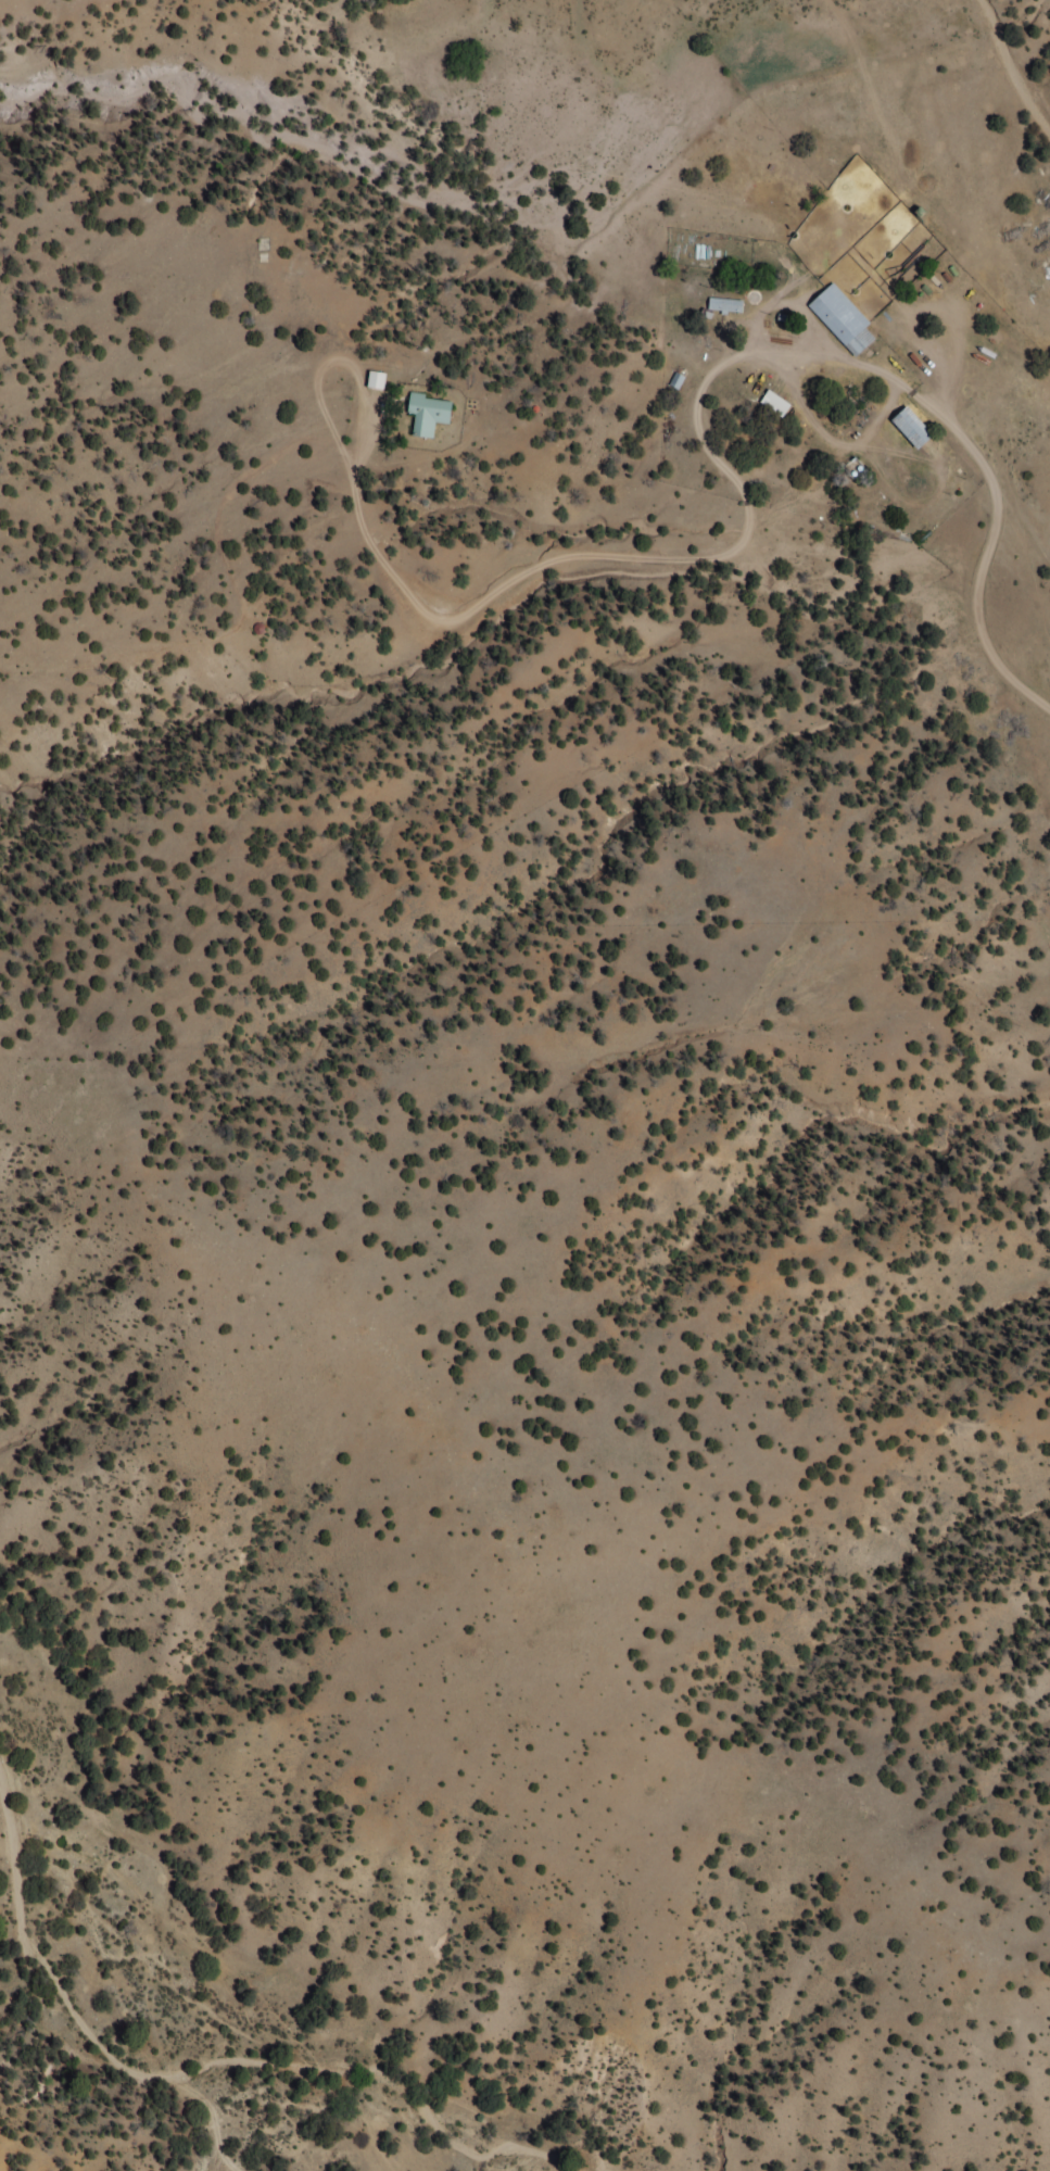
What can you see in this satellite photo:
road: (944, 203)
building: (724, 304)
building: (843, 318)
road: (314, 368)
building: (377, 380)
building: (675, 380)
building: (773, 403)
building: (428, 412)
road: (805, 421)
building: (912, 427)
road: (982, 552)
road: (656, 558)
road: (240, 613)
road: (207, 2116)

